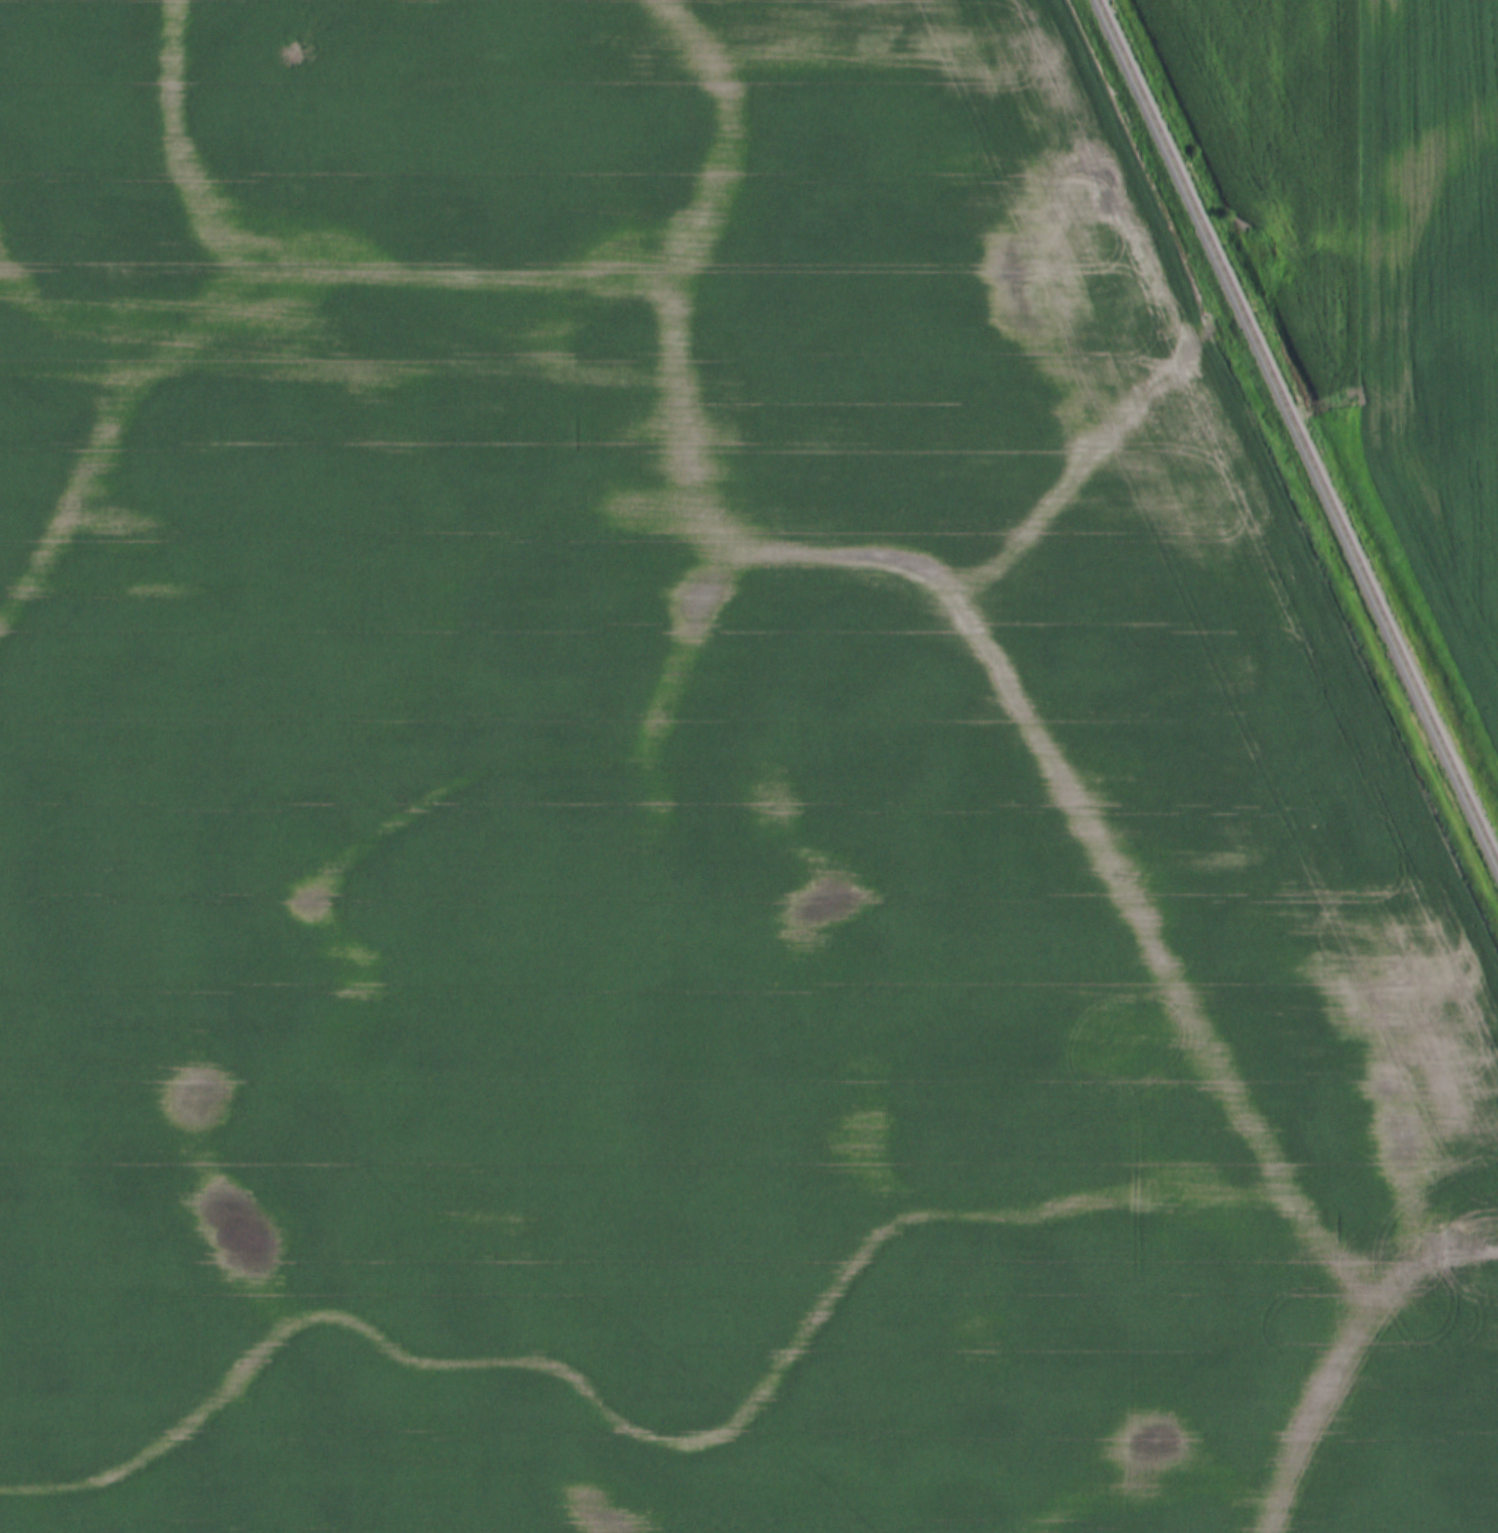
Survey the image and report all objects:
railway: (1298, 429)

